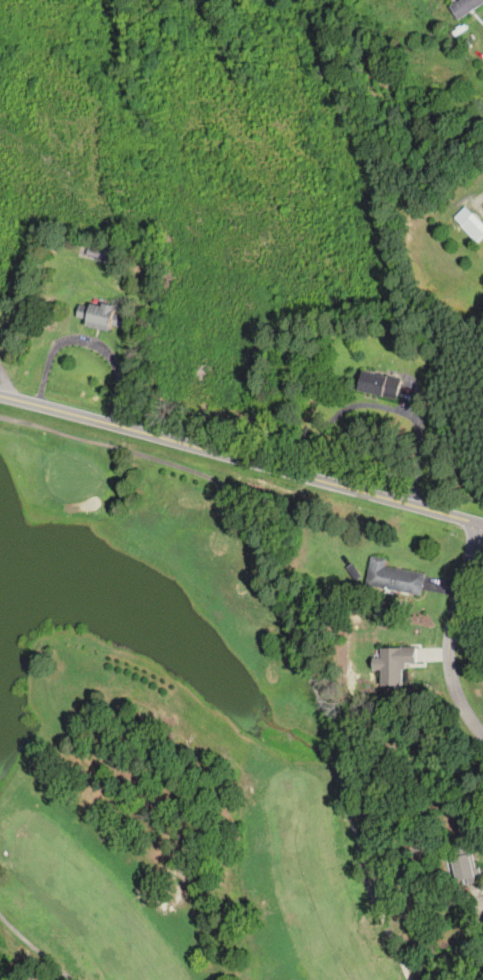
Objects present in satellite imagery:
building: (464, 7)
road: (475, 201)
building: (473, 227)
building: (95, 315)
road: (88, 339)
road: (5, 383)
building: (378, 384)
road: (241, 458)
building: (392, 577)
road: (449, 631)
park: (173, 740)
building: (461, 867)

